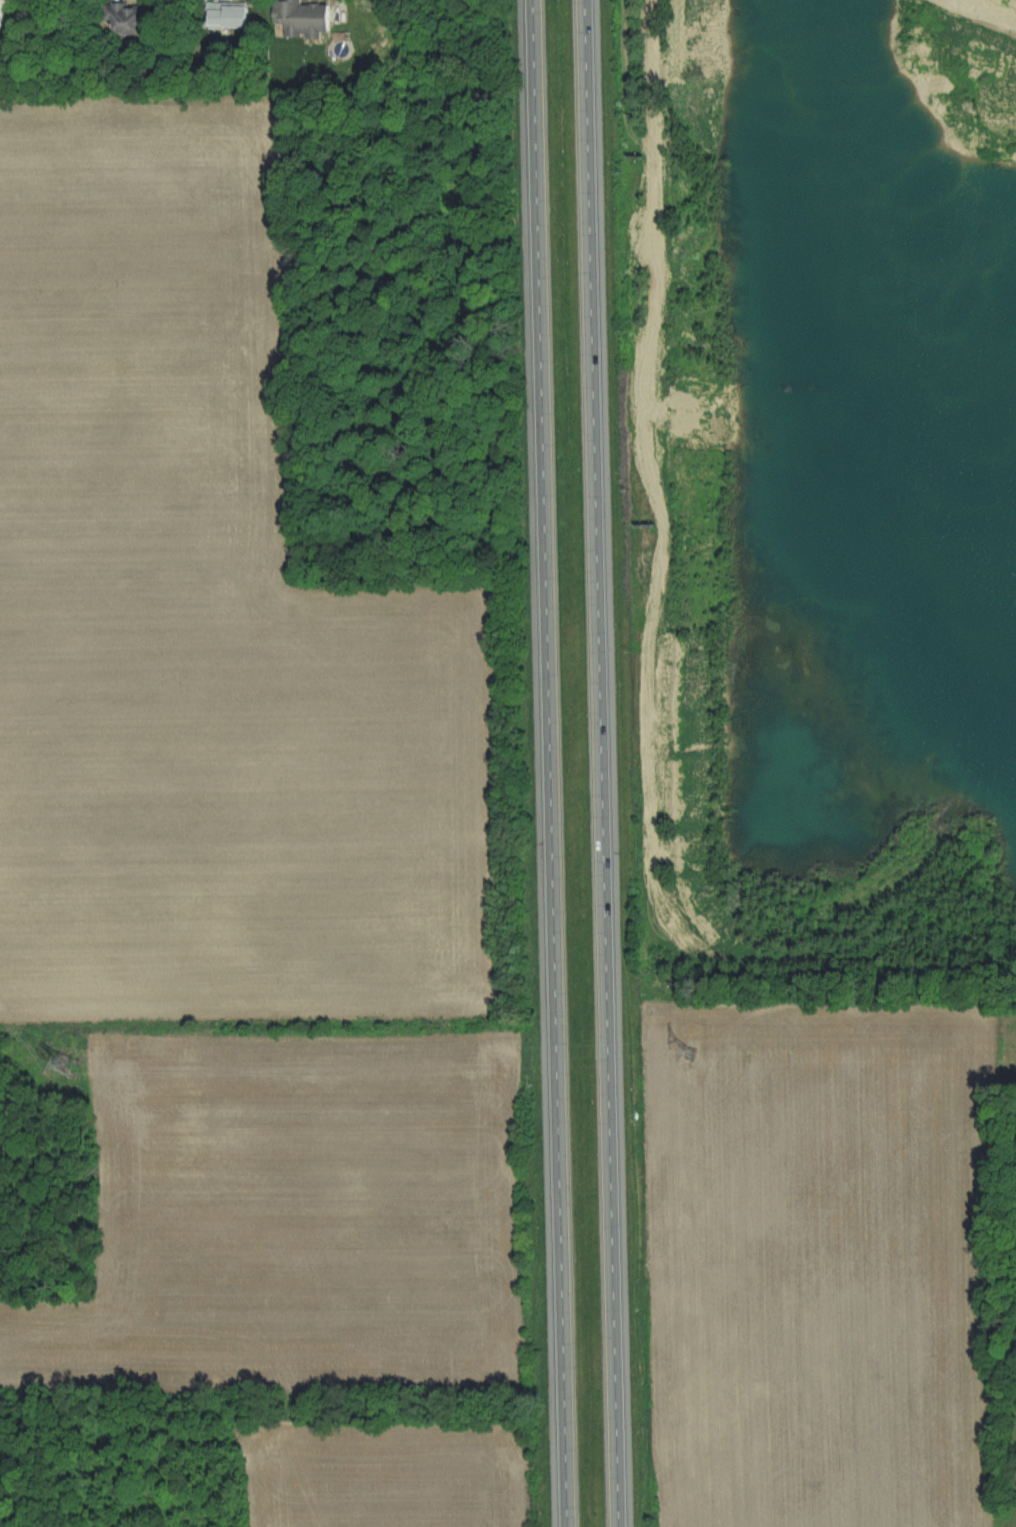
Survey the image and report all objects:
building: (124, 15)
building: (231, 15)
building: (305, 17)
crop: (218, 623)
road: (549, 763)
road: (600, 763)

